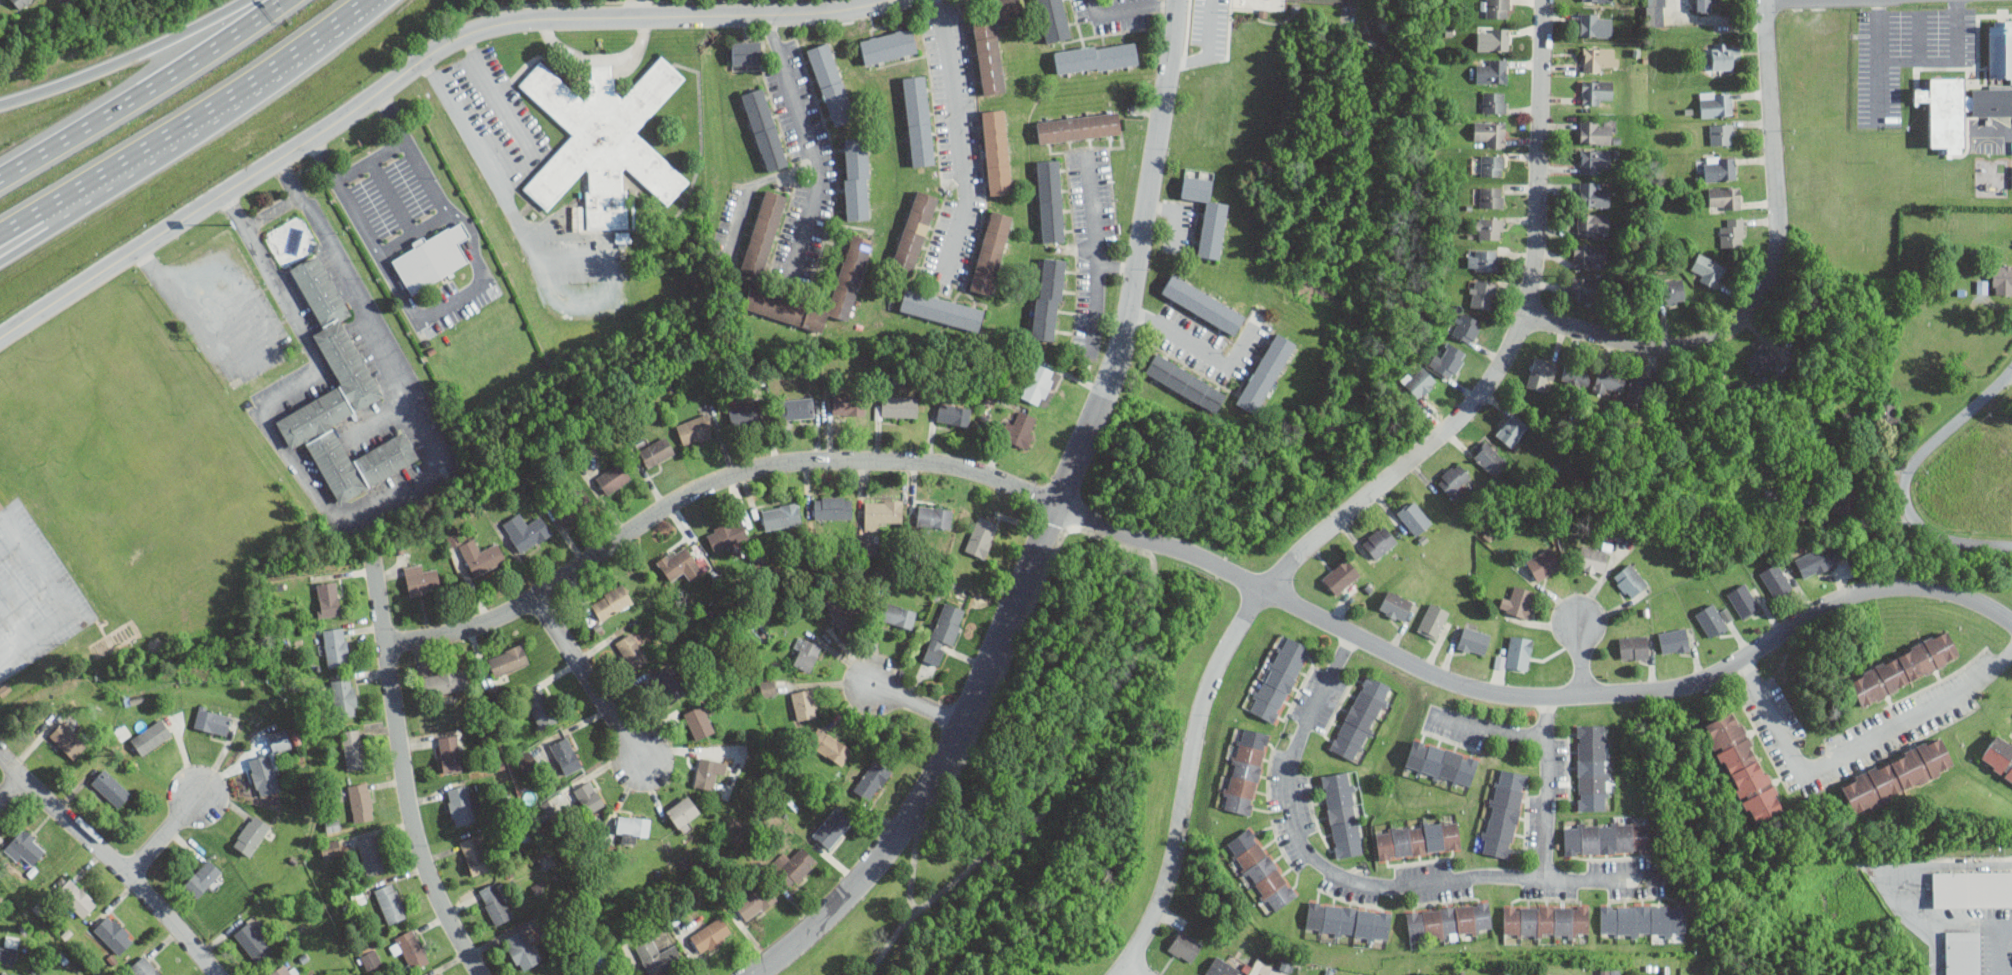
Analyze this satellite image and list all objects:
building: (1597, 0)
road: (1808, 1)
building: (21, 3)
building: (1704, 5)
road: (635, 8)
road: (651, 8)
building: (1495, 8)
road: (1172, 12)
building: (1656, 12)
road: (1728, 19)
building: (1053, 20)
road: (1073, 20)
building: (1596, 24)
road: (1103, 33)
road: (1188, 33)
road: (1123, 36)
road: (1918, 36)
building: (1493, 38)
road: (1067, 39)
road: (1103, 39)
road: (1083, 40)
building: (991, 42)
building: (888, 46)
building: (2000, 49)
building: (747, 52)
road: (596, 57)
building: (1096, 57)
building: (1720, 57)
building: (1601, 59)
road: (125, 61)
road: (1920, 61)
road: (410, 66)
road: (454, 68)
building: (1491, 70)
building: (831, 83)
road: (1880, 86)
road: (140, 89)
building: (1595, 91)
building: (1494, 101)
building: (1716, 103)
road: (205, 107)
building: (1958, 108)
building: (918, 119)
building: (1078, 126)
building: (764, 128)
building: (1596, 131)
building: (1489, 133)
building: (1721, 133)
road: (1998, 133)
road: (958, 135)
building: (603, 140)
road: (809, 147)
building: (997, 151)
road: (369, 159)
building: (1595, 160)
building: (1493, 165)
building: (1720, 167)
building: (2011, 174)
building: (856, 178)
building: (1594, 194)
building: (1491, 197)
building: (1725, 197)
building: (1050, 200)
building: (1207, 215)
road: (1175, 216)
road: (21, 220)
building: (1592, 224)
building: (1488, 228)
road: (413, 232)
building: (763, 232)
building: (914, 232)
building: (1732, 232)
road: (25, 238)
building: (991, 252)
building: (1589, 255)
building: (433, 257)
road: (535, 258)
building: (1483, 260)
road: (1098, 263)
building: (1707, 270)
road: (1773, 278)
building: (2002, 279)
building: (1982, 285)
building: (1584, 289)
building: (1673, 290)
building: (763, 293)
building: (1481, 293)
building: (1048, 299)
building: (1203, 303)
building: (941, 309)
building: (1465, 326)
road: (1210, 353)
building: (1760, 359)
building: (1449, 360)
building: (1266, 373)
building: (1540, 373)
building: (1575, 374)
building: (1418, 380)
building: (1608, 380)
building: (1034, 381)
building: (1185, 383)
building: (1637, 392)
building: (339, 395)
building: (848, 405)
building: (899, 406)
building: (796, 408)
building: (954, 414)
building: (745, 415)
building: (1888, 415)
building: (695, 429)
building: (1019, 429)
building: (1511, 429)
building: (655, 451)
building: (1489, 458)
building: (614, 477)
road: (1904, 477)
building: (1454, 479)
road: (1369, 495)
building: (1845, 500)
road: (370, 505)
building: (1, 507)
building: (571, 507)
building: (832, 507)
building: (881, 511)
building: (781, 515)
building: (934, 516)
building: (1413, 516)
road: (1046, 526)
building: (526, 530)
building: (726, 535)
building: (981, 535)
building: (453, 537)
building: (1379, 541)
road: (1124, 544)
building: (481, 556)
road: (1197, 557)
building: (1592, 559)
building: (1812, 562)
building: (679, 563)
building: (1543, 563)
building: (1340, 576)
building: (421, 579)
building: (1775, 579)
building: (1630, 580)
road: (67, 595)
building: (327, 598)
building: (1743, 600)
building: (611, 601)
building: (1518, 601)
building: (1395, 606)
building: (841, 612)
building: (898, 615)
building: (1433, 620)
building: (1711, 620)
building: (943, 632)
building: (1474, 640)
building: (1673, 640)
building: (336, 647)
building: (1634, 647)
building: (632, 650)
building: (1516, 653)
building: (807, 654)
road: (1581, 655)
building: (508, 660)
building: (1903, 667)
building: (1278, 678)
building: (445, 681)
road: (588, 681)
building: (768, 687)
building: (669, 688)
building: (344, 697)
building: (804, 703)
road: (917, 703)
building: (541, 709)
park: (1093, 712)
building: (1361, 717)
building: (213, 720)
building: (699, 721)
road: (1494, 726)
building: (151, 736)
building: (68, 740)
building: (279, 740)
building: (829, 746)
road: (1857, 746)
building: (353, 749)
building: (449, 753)
building: (566, 755)
building: (1998, 757)
building: (527, 762)
building: (1441, 763)
building: (1593, 767)
building: (1743, 767)
building: (1245, 770)
road: (401, 772)
building: (708, 772)
building: (264, 774)
building: (1896, 775)
building: (872, 779)
road: (10, 787)
building: (111, 787)
road: (1547, 787)
building: (589, 797)
building: (361, 801)
building: (461, 805)
building: (683, 811)
building: (1503, 813)
building: (1343, 814)
building: (632, 827)
building: (833, 827)
road: (162, 834)
building: (252, 835)
building: (1606, 837)
building: (1418, 838)
building: (25, 846)
building: (331, 848)
building: (474, 854)
building: (370, 855)
road: (112, 859)
building: (546, 860)
building: (793, 865)
building: (1261, 869)
road: (1914, 873)
building: (202, 878)
road: (1354, 880)
building: (1973, 888)
building: (76, 897)
building: (390, 902)
building: (755, 902)
building: (495, 903)
building: (1546, 920)
building: (1643, 920)
building: (1348, 921)
building: (1449, 921)
road: (1972, 925)
building: (114, 933)
building: (711, 935)
building: (254, 938)
road: (889, 945)
building: (1185, 946)
building: (410, 948)
building: (521, 949)
road: (1997, 950)
building: (9, 951)
building: (1964, 954)
building: (658, 957)
building: (370, 958)
building: (144, 966)
building: (1221, 967)
building: (283, 970)
road: (1132, 970)
building: (10, 973)
building: (621, 973)
building: (437, 974)
building: (438, 974)
building: (544, 974)

